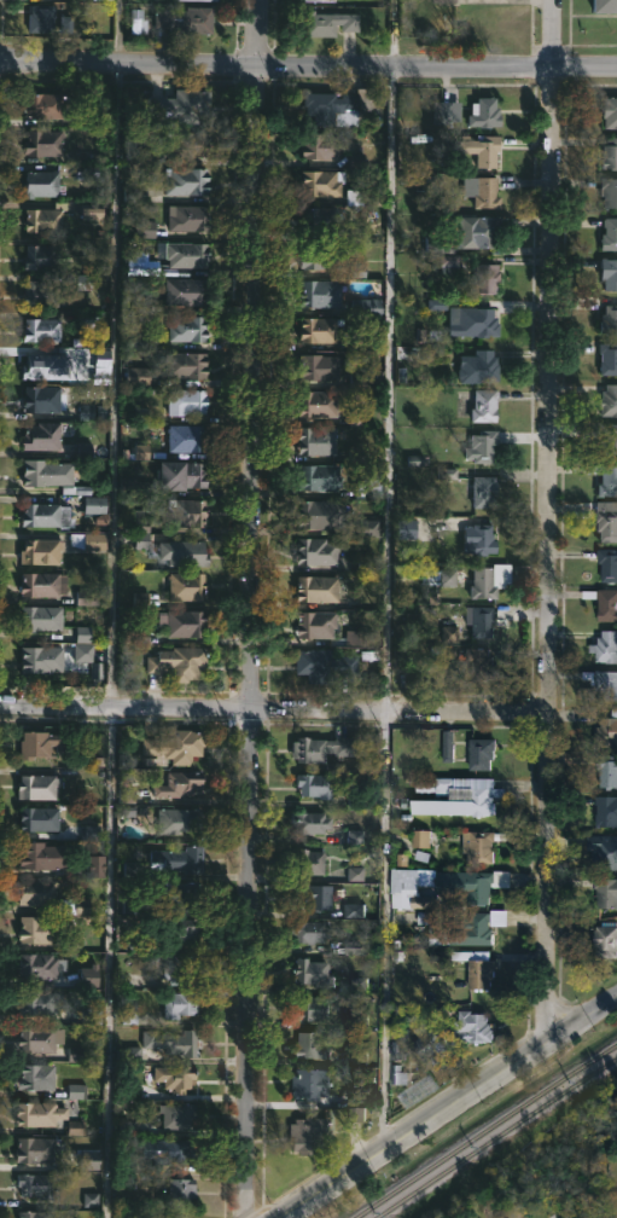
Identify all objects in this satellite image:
building: (327, 0)
building: (446, 0)
building: (197, 1)
building: (600, 6)
building: (43, 19)
building: (186, 19)
building: (332, 22)
building: (139, 23)
road: (308, 70)
building: (184, 104)
building: (50, 105)
building: (334, 108)
building: (447, 111)
building: (487, 112)
building: (607, 112)
building: (46, 141)
building: (188, 143)
building: (321, 145)
building: (483, 150)
building: (607, 155)
building: (188, 180)
building: (324, 182)
building: (45, 185)
building: (483, 191)
building: (607, 192)
building: (366, 197)
building: (191, 217)
building: (320, 220)
building: (46, 221)
building: (479, 231)
building: (607, 234)
building: (188, 254)
building: (321, 256)
building: (43, 257)
building: (607, 275)
building: (488, 278)
building: (187, 291)
building: (321, 292)
building: (41, 294)
building: (367, 306)
building: (607, 321)
building: (477, 323)
building: (190, 329)
building: (320, 330)
building: (43, 331)
building: (609, 359)
building: (188, 365)
building: (488, 365)
building: (320, 366)
building: (48, 367)
building: (367, 378)
building: (46, 400)
building: (188, 401)
building: (606, 401)
building: (319, 402)
building: (487, 405)
building: (43, 436)
building: (604, 436)
building: (187, 437)
building: (319, 440)
building: (483, 446)
building: (47, 472)
building: (184, 474)
building: (322, 477)
building: (603, 478)
building: (134, 487)
building: (371, 488)
building: (487, 492)
building: (97, 506)
building: (187, 512)
building: (324, 514)
building: (46, 515)
road: (545, 521)
road: (559, 523)
building: (609, 524)
building: (409, 530)
building: (481, 540)
building: (88, 541)
building: (42, 551)
building: (319, 551)
building: (185, 552)
building: (605, 565)
road: (388, 573)
building: (466, 580)
building: (45, 584)
building: (187, 586)
building: (320, 587)
building: (604, 603)
road: (250, 608)
road: (112, 609)
building: (43, 617)
building: (484, 621)
building: (182, 623)
building: (318, 625)
building: (605, 645)
building: (43, 660)
building: (177, 662)
building: (481, 663)
building: (326, 665)
building: (603, 683)
road: (270, 707)
road: (456, 725)
building: (606, 729)
building: (39, 744)
building: (176, 746)
building: (324, 748)
building: (483, 754)
building: (604, 770)
building: (180, 785)
building: (316, 785)
building: (40, 787)
building: (460, 796)
building: (604, 811)
building: (175, 819)
building: (37, 820)
building: (308, 822)
building: (89, 831)
building: (477, 847)
building: (603, 852)
building: (45, 855)
road: (226, 855)
building: (179, 860)
building: (310, 864)
building: (98, 869)
building: (132, 870)
building: (470, 884)
building: (604, 891)
building: (40, 892)
building: (180, 895)
building: (318, 897)
building: (80, 906)
building: (127, 906)
building: (37, 930)
building: (184, 930)
building: (468, 930)
building: (310, 933)
building: (601, 940)
building: (39, 967)
building: (181, 967)
building: (314, 974)
building: (482, 975)
building: (87, 976)
building: (37, 1002)
building: (181, 1003)
building: (308, 1009)
building: (458, 1036)
building: (40, 1038)
building: (179, 1042)
building: (397, 1044)
building: (313, 1045)
building: (132, 1052)
building: (74, 1055)
building: (175, 1077)
building: (39, 1078)
building: (312, 1083)
building: (418, 1092)
road: (444, 1107)
building: (41, 1113)
building: (179, 1114)
building: (308, 1132)
railway: (485, 1132)
railway: (495, 1138)
building: (168, 1149)
building: (36, 1150)
building: (36, 1184)
building: (180, 1191)
building: (616, 1197)
building: (36, 1214)
building: (179, 1217)

